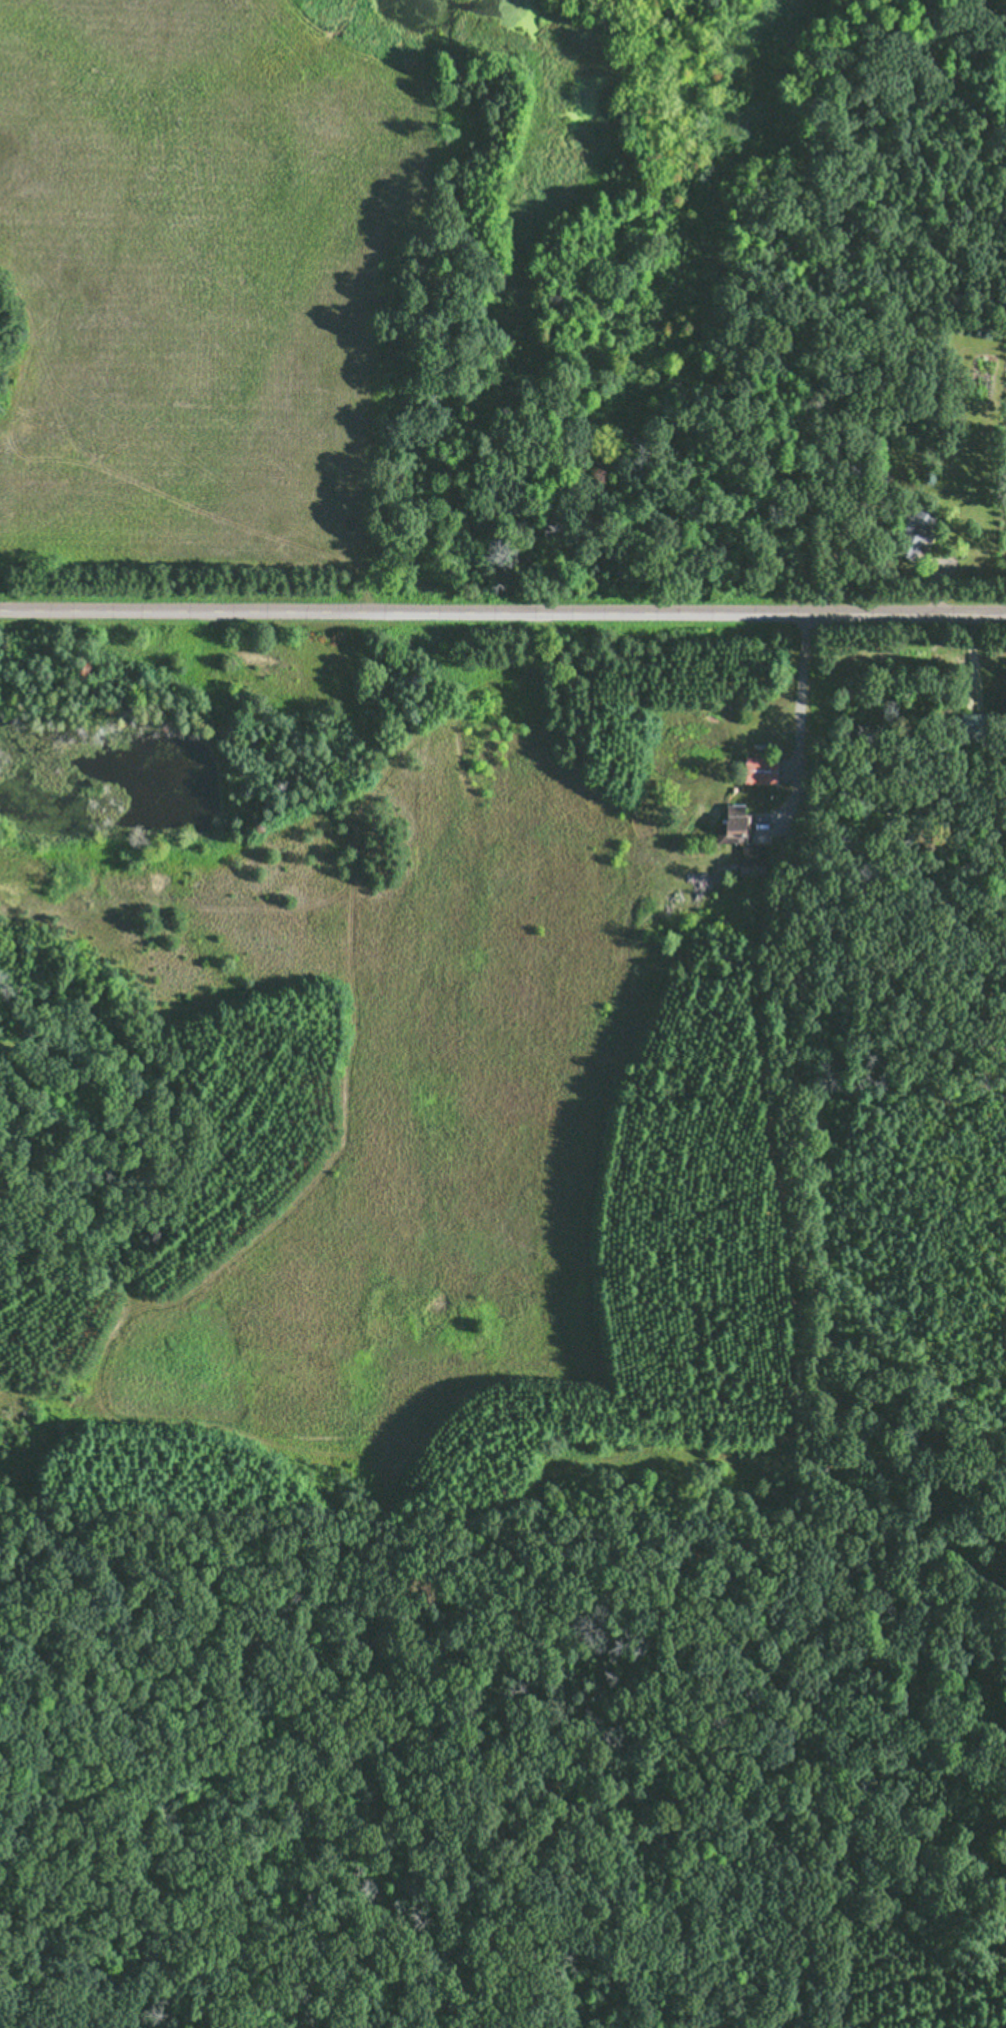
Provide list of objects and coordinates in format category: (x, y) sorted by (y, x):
building: (877, 479)
building: (912, 532)
road: (503, 610)
building: (1001, 703)
building: (971, 726)
building: (760, 769)
building: (743, 842)

